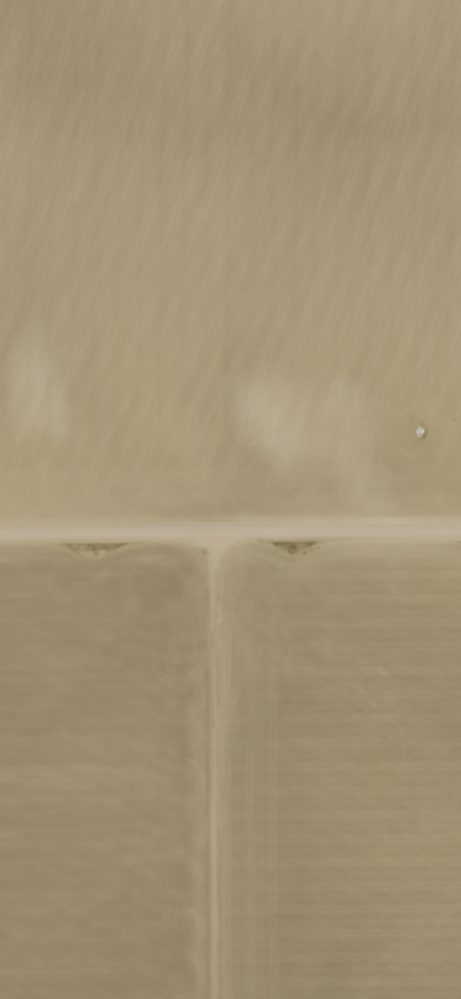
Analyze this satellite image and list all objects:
crop: (230, 257)
road: (230, 529)
crop: (230, 772)

